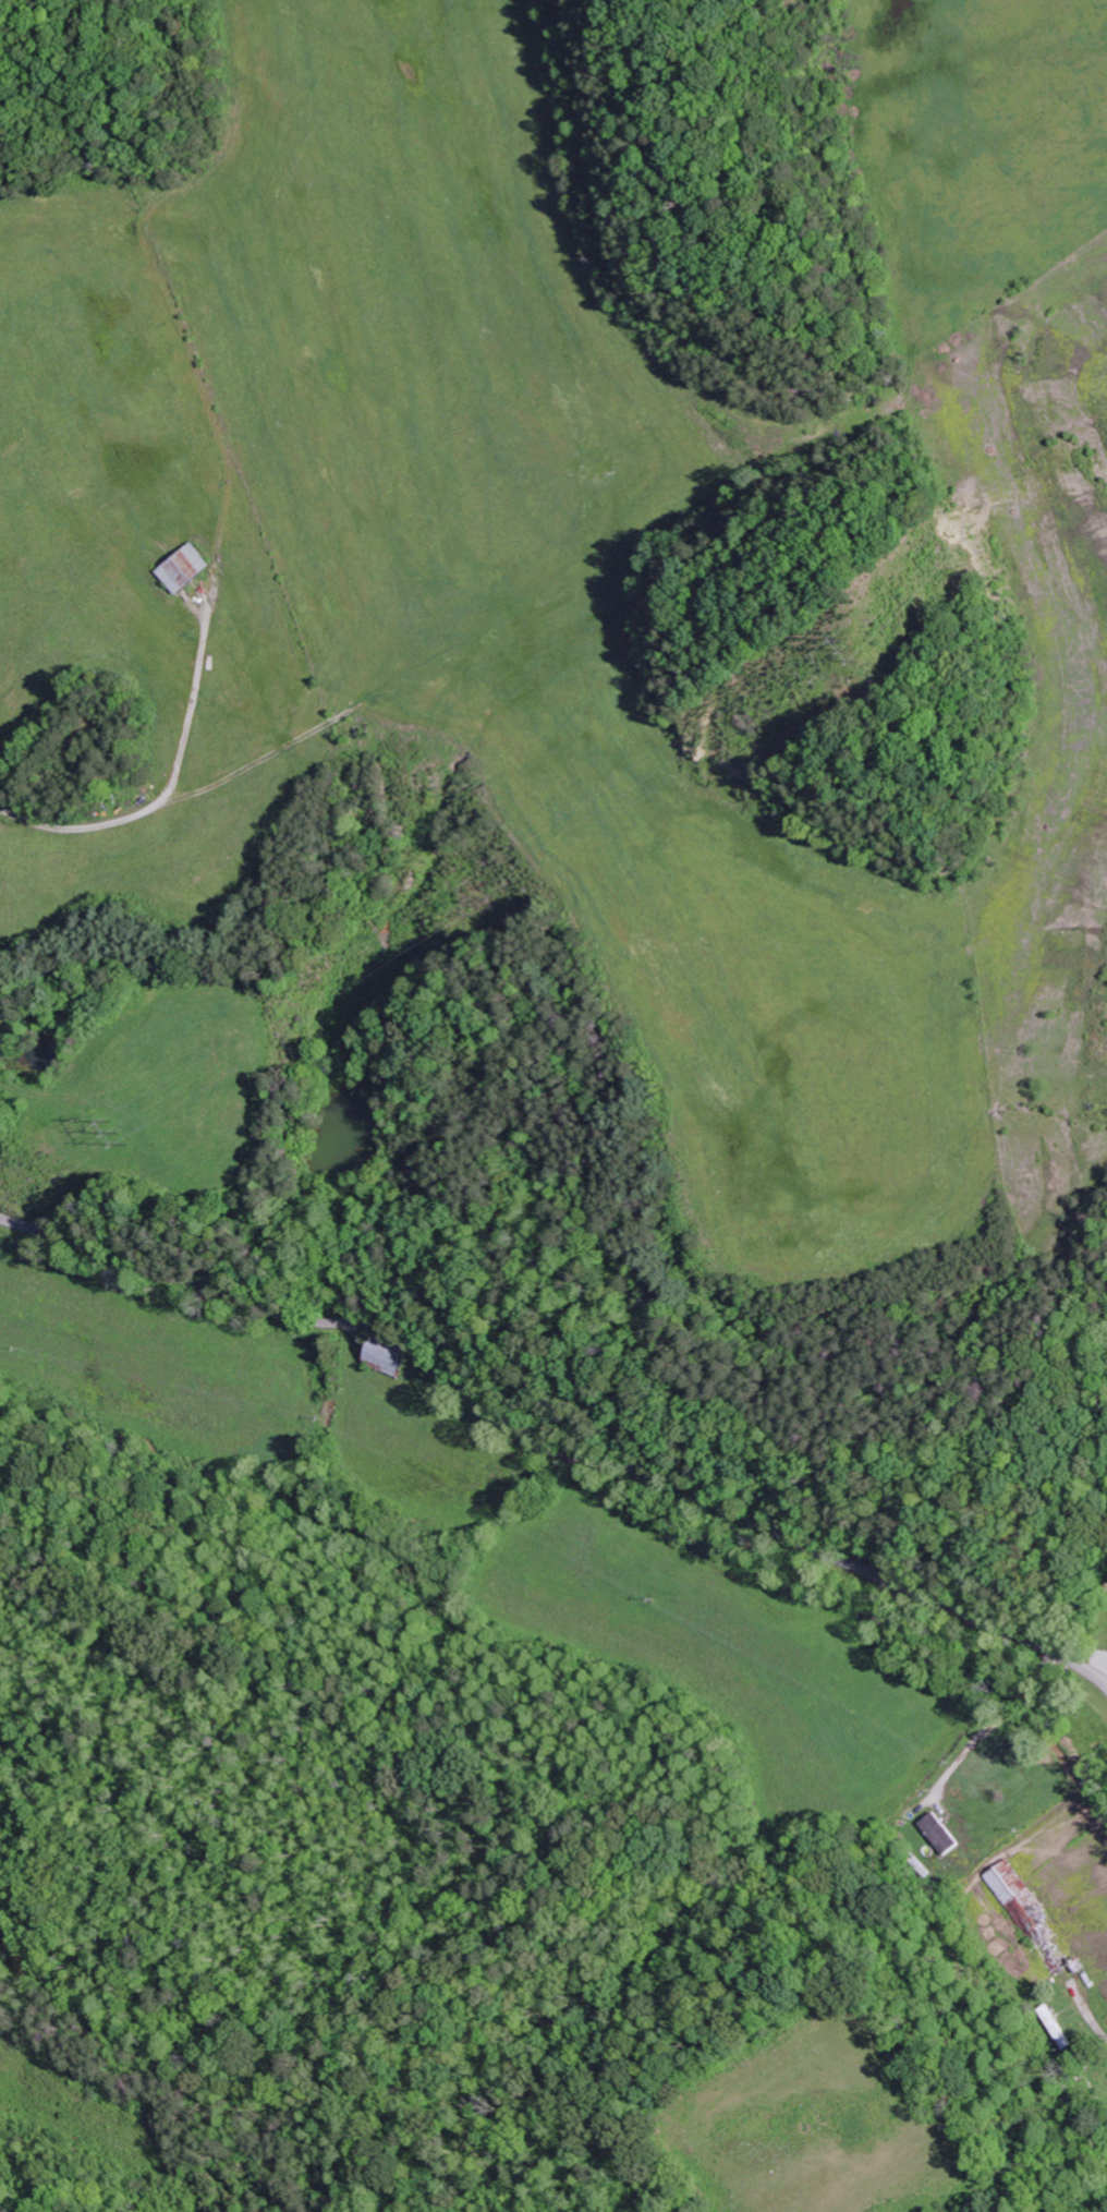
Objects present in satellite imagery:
road: (219, 536)
building: (182, 567)
power tower: (124, 1129)
road: (16, 1220)
building: (386, 1358)
road: (574, 1440)
building: (938, 1834)
building: (1032, 1919)

